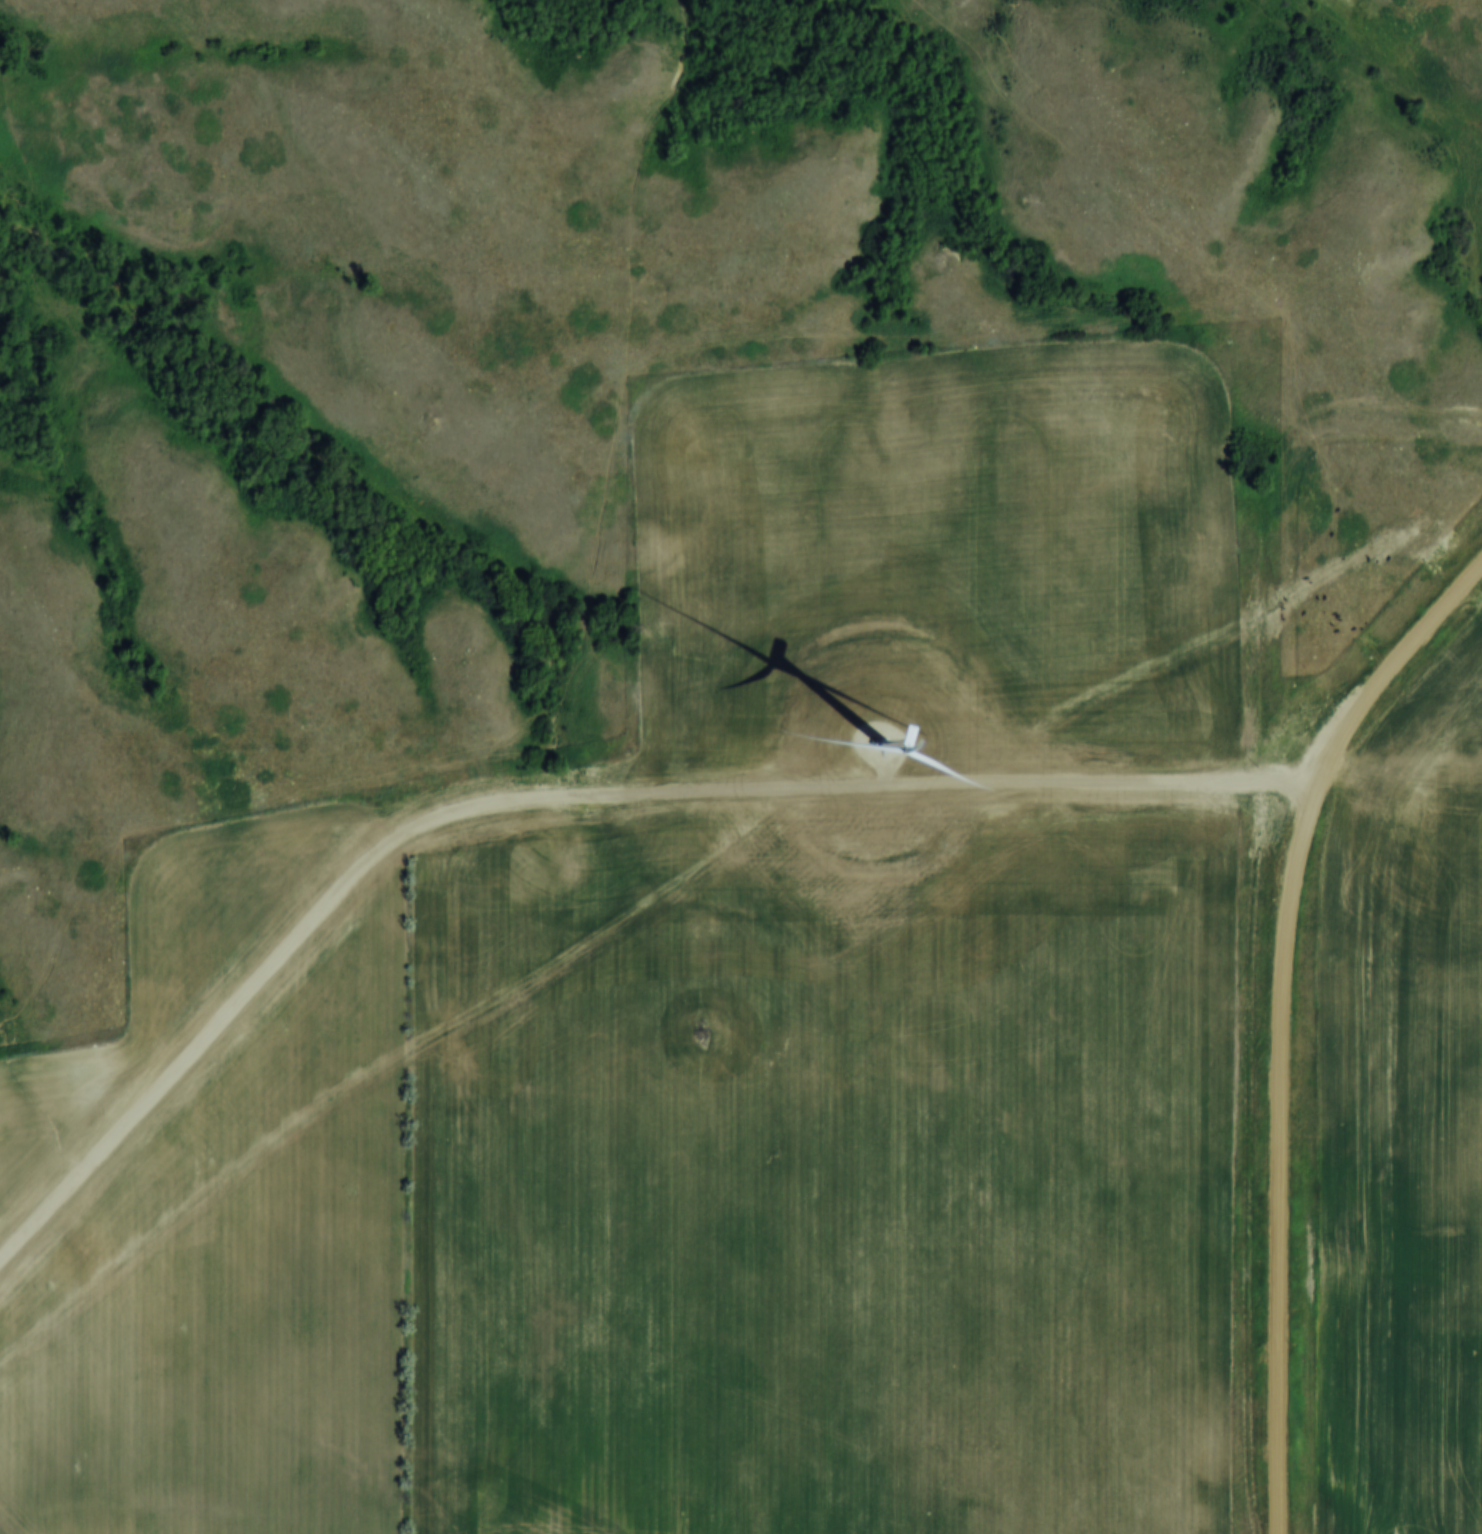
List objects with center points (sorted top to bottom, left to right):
wind turbine: (875, 739)
road: (539, 825)
road: (1281, 1017)

